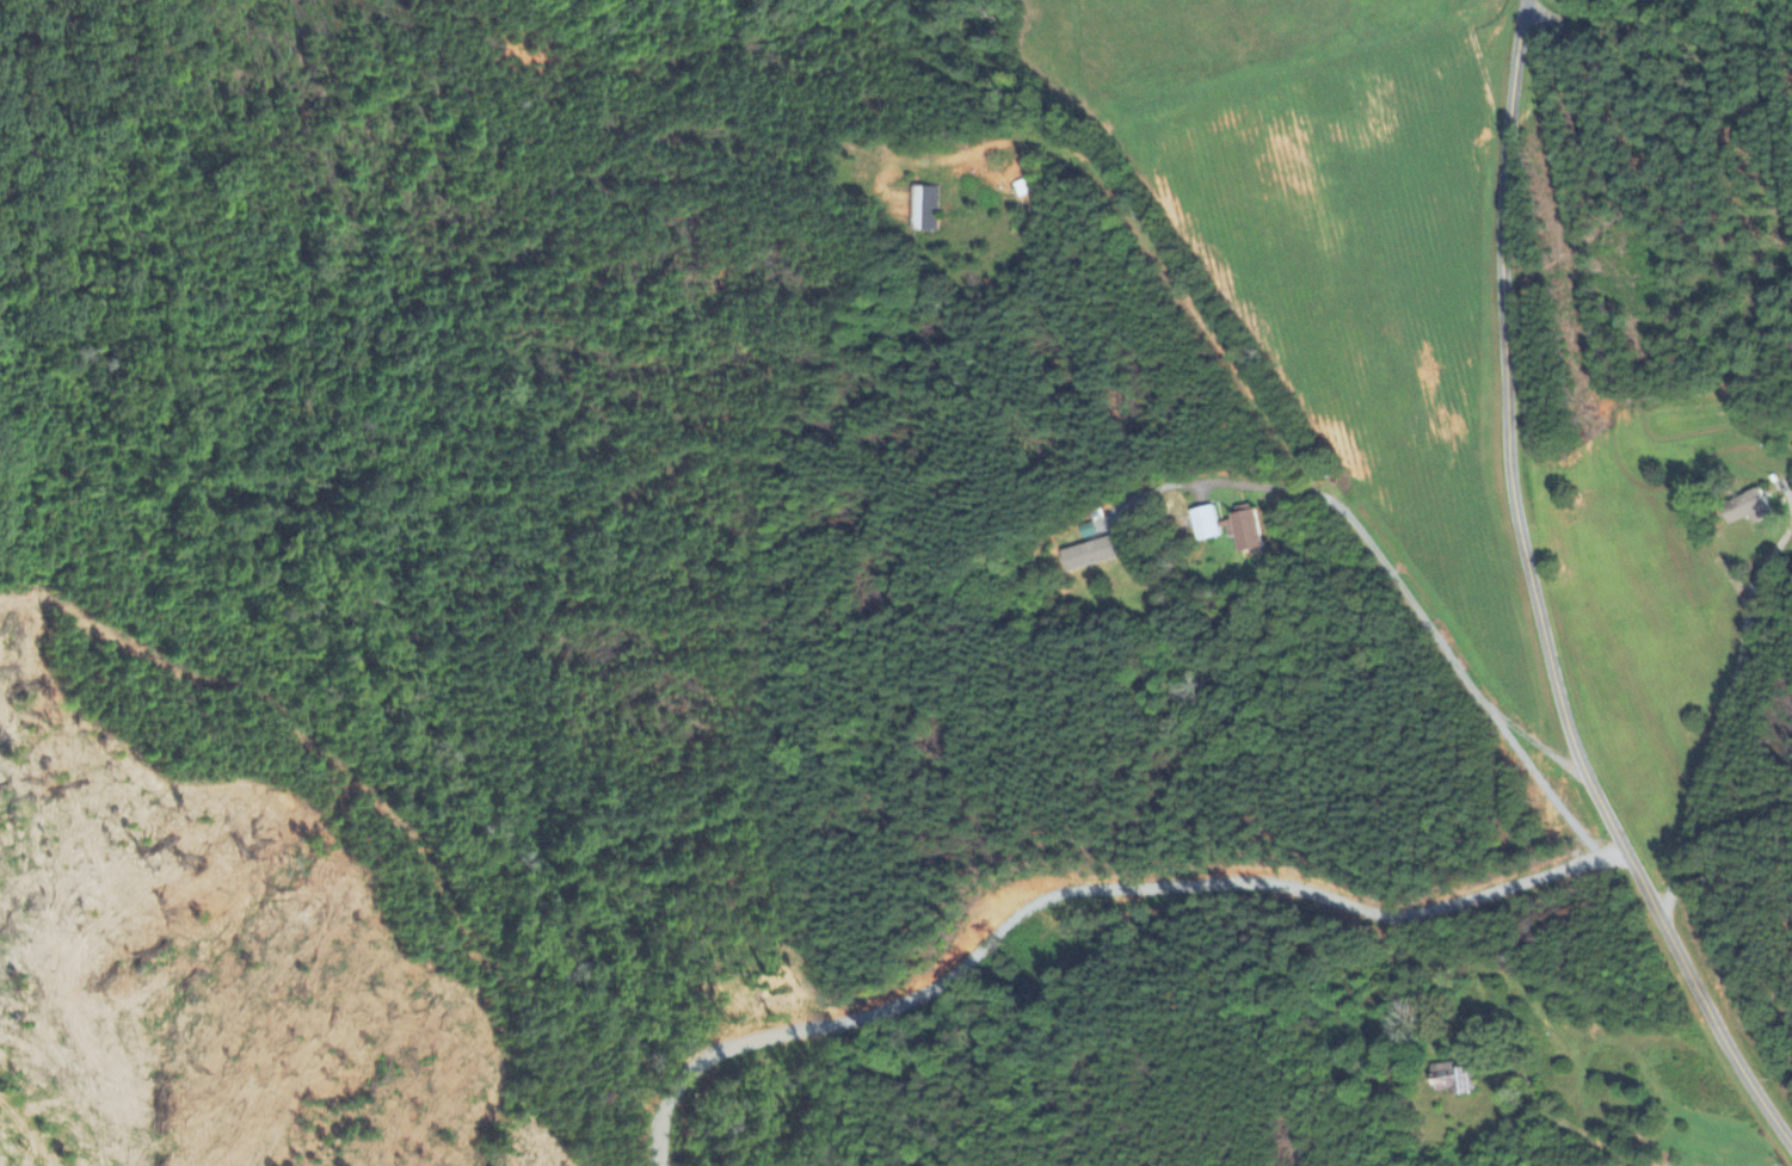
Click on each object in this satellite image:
building: (1022, 190)
building: (923, 209)
building: (1747, 510)
building: (1203, 524)
building: (1244, 530)
road: (1377, 553)
building: (1090, 555)
road: (1538, 594)
road: (1723, 714)
road: (1538, 781)
road: (1091, 893)
building: (1451, 1078)

